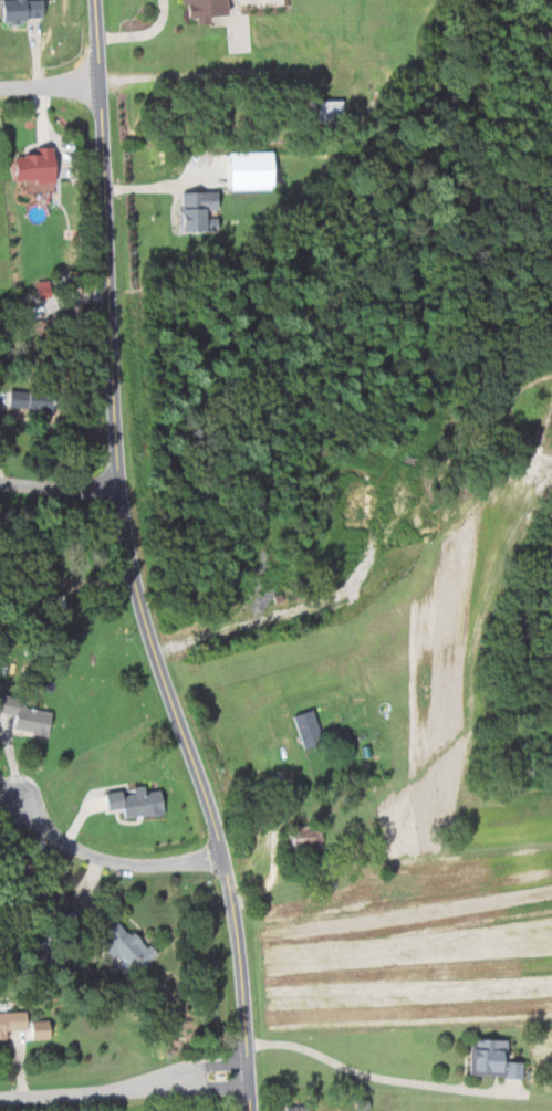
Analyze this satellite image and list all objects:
building: (201, 9)
building: (20, 10)
road: (143, 34)
road: (180, 74)
road: (50, 88)
building: (323, 111)
building: (14, 157)
building: (33, 166)
building: (251, 169)
building: (196, 211)
building: (28, 400)
road: (59, 488)
road: (128, 563)
building: (27, 719)
building: (305, 729)
road: (7, 785)
building: (133, 801)
road: (274, 835)
building: (300, 839)
road: (106, 858)
building: (123, 946)
building: (10, 1021)
building: (44, 1028)
building: (489, 1059)
road: (384, 1077)
road: (124, 1089)
building: (294, 1108)

